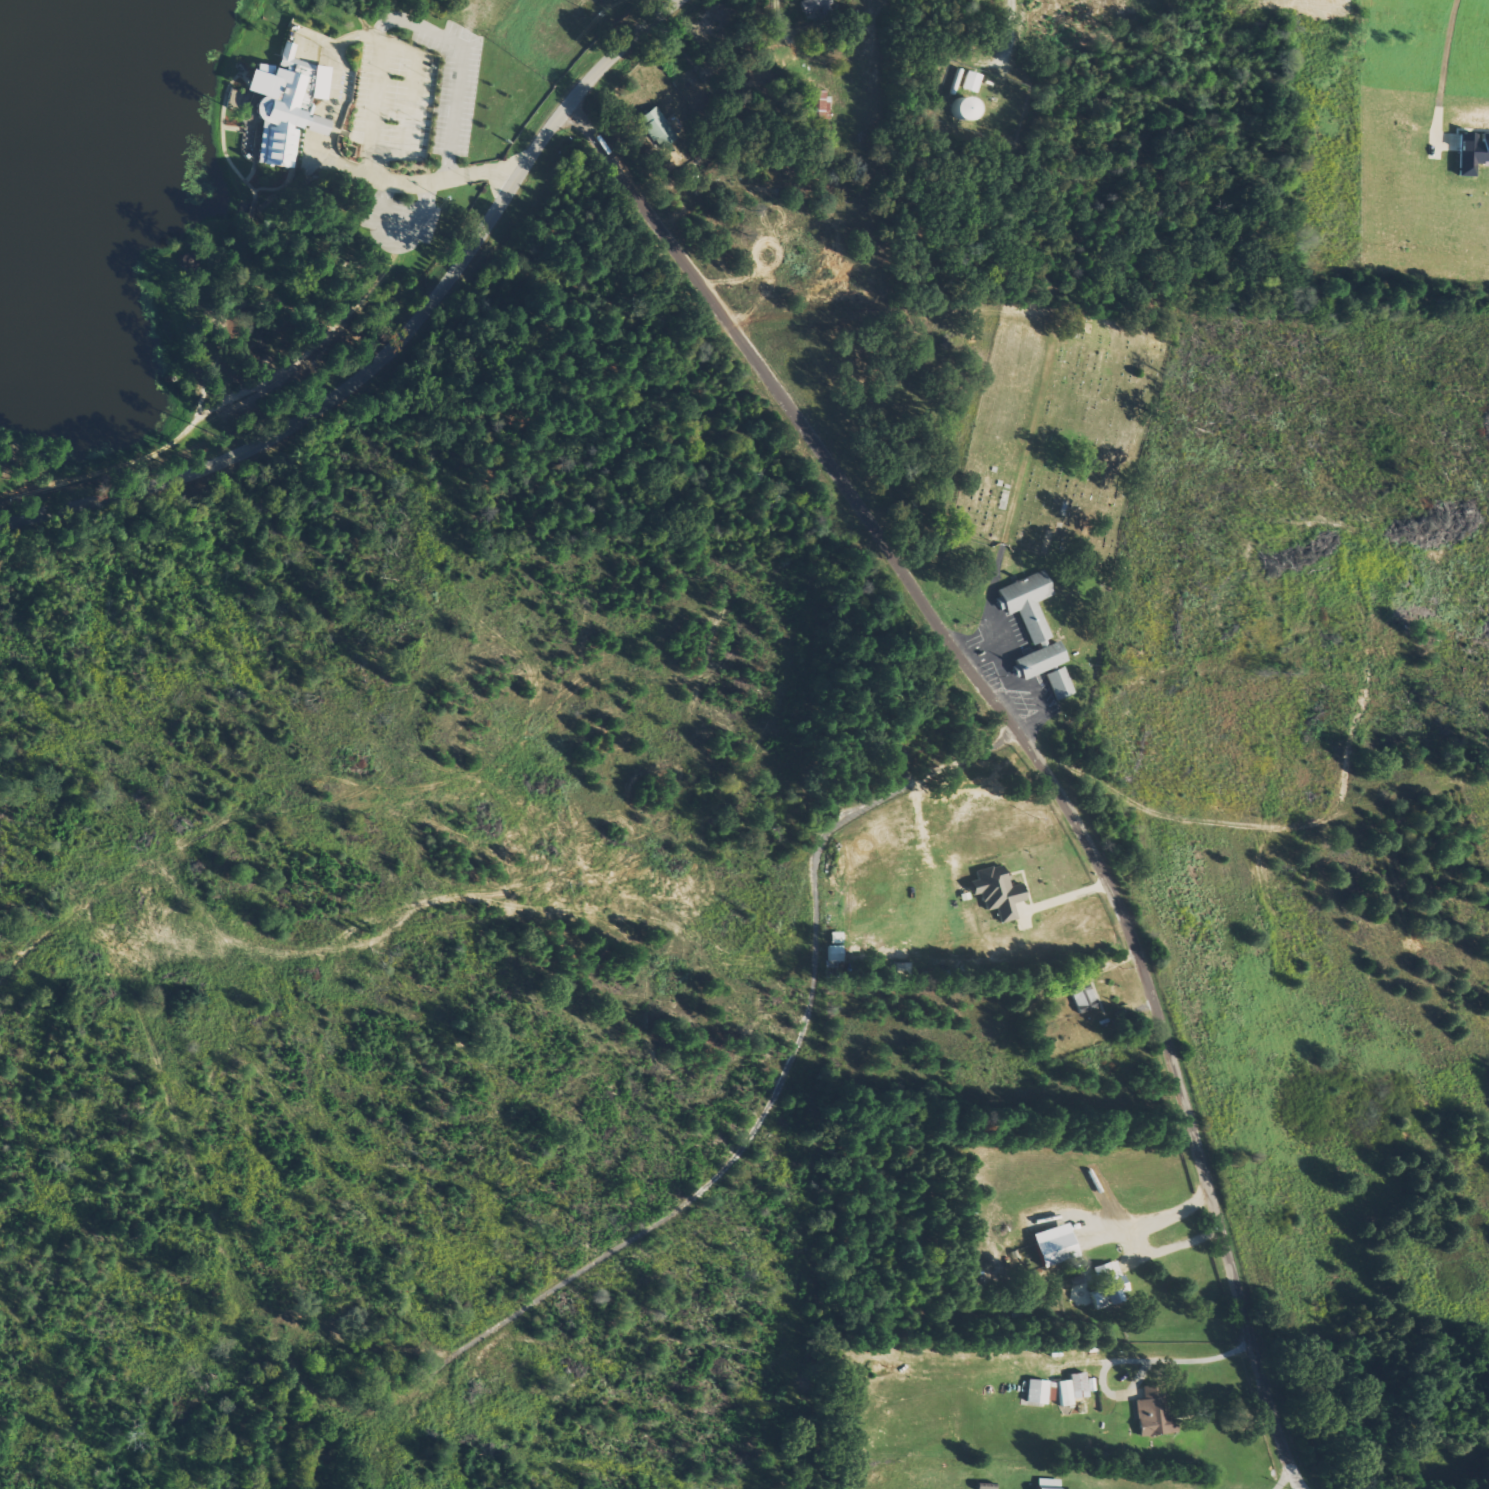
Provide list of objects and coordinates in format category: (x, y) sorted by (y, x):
building: (813, 6)
building: (818, 104)
building: (284, 106)
building: (959, 109)
building: (656, 127)
building: (1471, 154)
road: (405, 346)
park: (1061, 436)
building: (1030, 624)
building: (1059, 682)
road: (1029, 750)
building: (996, 892)
building: (835, 938)
building: (834, 953)
building: (1083, 998)
building: (1053, 1245)
building: (1108, 1284)
road: (1136, 1362)
building: (1071, 1389)
building: (1035, 1392)
building: (1050, 1392)
building: (1153, 1412)
building: (1047, 1484)

